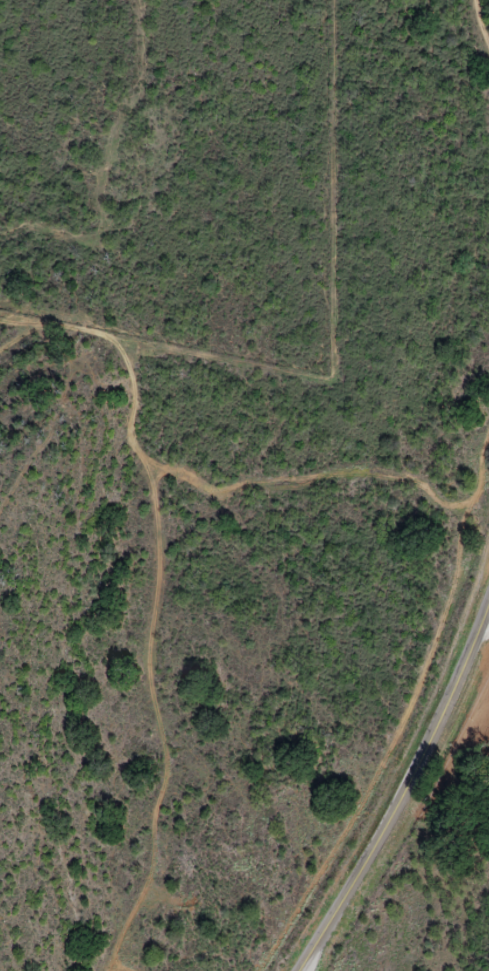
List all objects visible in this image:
road: (484, 627)
road: (401, 790)

